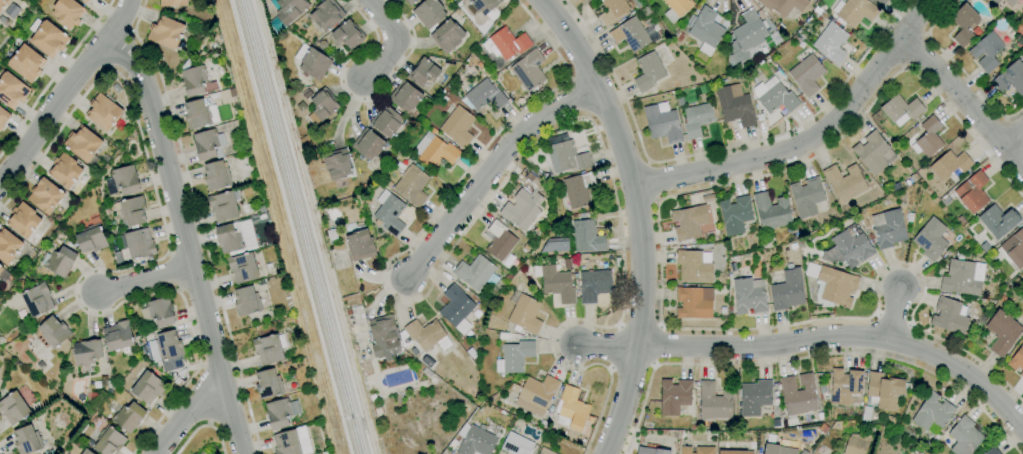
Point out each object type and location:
building: (85, 1)
building: (996, 1)
building: (172, 2)
building: (410, 2)
building: (881, 2)
building: (1010, 2)
building: (3, 3)
building: (638, 3)
building: (783, 5)
building: (486, 7)
building: (676, 8)
building: (290, 10)
building: (612, 11)
building: (855, 11)
building: (67, 13)
building: (428, 13)
building: (326, 15)
road: (118, 18)
building: (963, 24)
building: (706, 30)
building: (165, 32)
building: (1022, 33)
building: (347, 34)
building: (630, 35)
building: (447, 36)
building: (747, 36)
building: (49, 39)
road: (395, 42)
building: (831, 43)
building: (505, 44)
building: (986, 52)
building: (312, 62)
building: (26, 63)
road: (959, 69)
building: (528, 70)
building: (423, 72)
building: (649, 72)
building: (806, 74)
road: (53, 75)
building: (1010, 78)
building: (194, 80)
building: (11, 90)
building: (485, 96)
building: (774, 96)
building: (406, 97)
road: (356, 99)
road: (966, 99)
building: (323, 104)
road: (54, 105)
building: (735, 107)
building: (900, 109)
building: (103, 112)
building: (197, 114)
building: (3, 118)
building: (696, 120)
building: (385, 121)
building: (662, 124)
building: (457, 126)
road: (1014, 137)
road: (812, 138)
building: (928, 138)
building: (82, 144)
building: (208, 144)
building: (368, 144)
road: (716, 150)
building: (434, 152)
building: (873, 153)
building: (567, 157)
building: (337, 164)
building: (949, 164)
building: (64, 170)
road: (492, 171)
building: (216, 176)
building: (123, 181)
road: (653, 182)
building: (844, 182)
road: (501, 183)
building: (412, 185)
building: (578, 190)
building: (972, 192)
building: (45, 196)
building: (807, 196)
building: (223, 206)
building: (521, 209)
building: (131, 211)
building: (771, 211)
building: (390, 215)
building: (735, 215)
road: (635, 216)
building: (23, 220)
building: (998, 221)
building: (689, 222)
road: (199, 223)
railway: (304, 226)
railway: (294, 227)
building: (888, 228)
building: (235, 237)
building: (586, 237)
building: (91, 238)
building: (930, 239)
road: (181, 240)
building: (500, 241)
building: (136, 245)
building: (360, 245)
building: (555, 245)
building: (8, 246)
building: (848, 247)
building: (1013, 249)
building: (59, 261)
road: (146, 263)
building: (694, 266)
building: (242, 268)
building: (1, 269)
building: (1022, 272)
building: (476, 273)
road: (660, 276)
building: (962, 277)
road: (143, 278)
building: (555, 283)
building: (834, 284)
building: (594, 285)
building: (787, 289)
building: (748, 297)
building: (37, 300)
building: (246, 301)
building: (694, 302)
building: (456, 309)
building: (158, 312)
road: (897, 312)
building: (525, 314)
building: (950, 316)
building: (53, 332)
building: (1003, 332)
building: (424, 335)
road: (844, 335)
building: (118, 336)
building: (384, 337)
road: (658, 345)
road: (607, 347)
building: (269, 349)
building: (166, 351)
building: (87, 352)
road: (808, 356)
building: (514, 357)
building: (1017, 360)
building: (109, 384)
building: (268, 384)
building: (845, 385)
building: (148, 388)
building: (883, 391)
building: (536, 395)
building: (674, 396)
building: (798, 396)
building: (755, 397)
building: (714, 402)
building: (13, 408)
building: (572, 410)
building: (280, 412)
building: (932, 412)
building: (129, 417)
road: (189, 420)
road: (190, 435)
building: (964, 436)
road: (219, 437)
building: (27, 440)
building: (110, 441)
building: (477, 441)
building: (291, 442)
building: (857, 443)
building: (516, 444)
building: (777, 449)
building: (697, 450)
building: (86, 451)
building: (544, 451)
building: (651, 451)
building: (992, 451)
building: (735, 452)
building: (912, 452)

